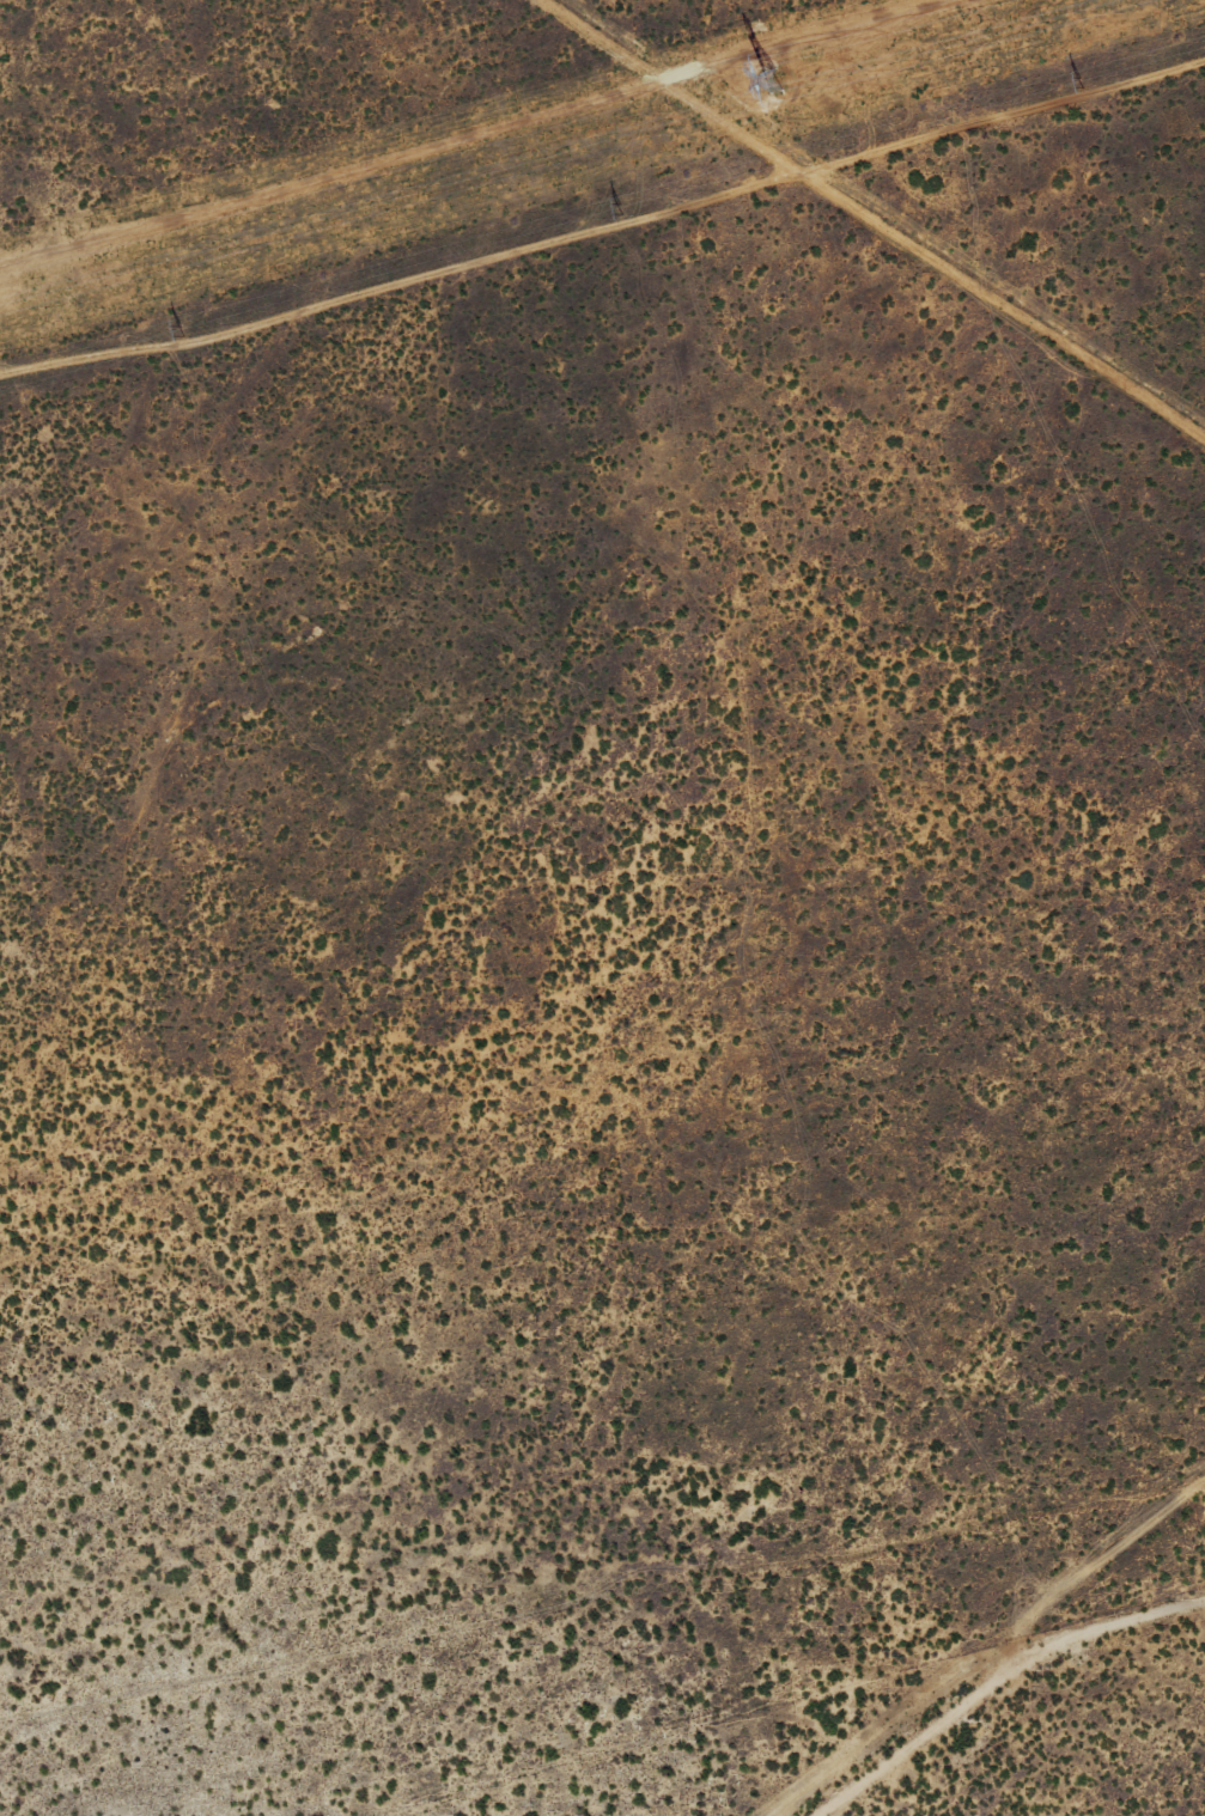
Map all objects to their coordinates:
power tower: (767, 81)
power tower: (1077, 85)
power tower: (617, 211)
power tower: (179, 333)

